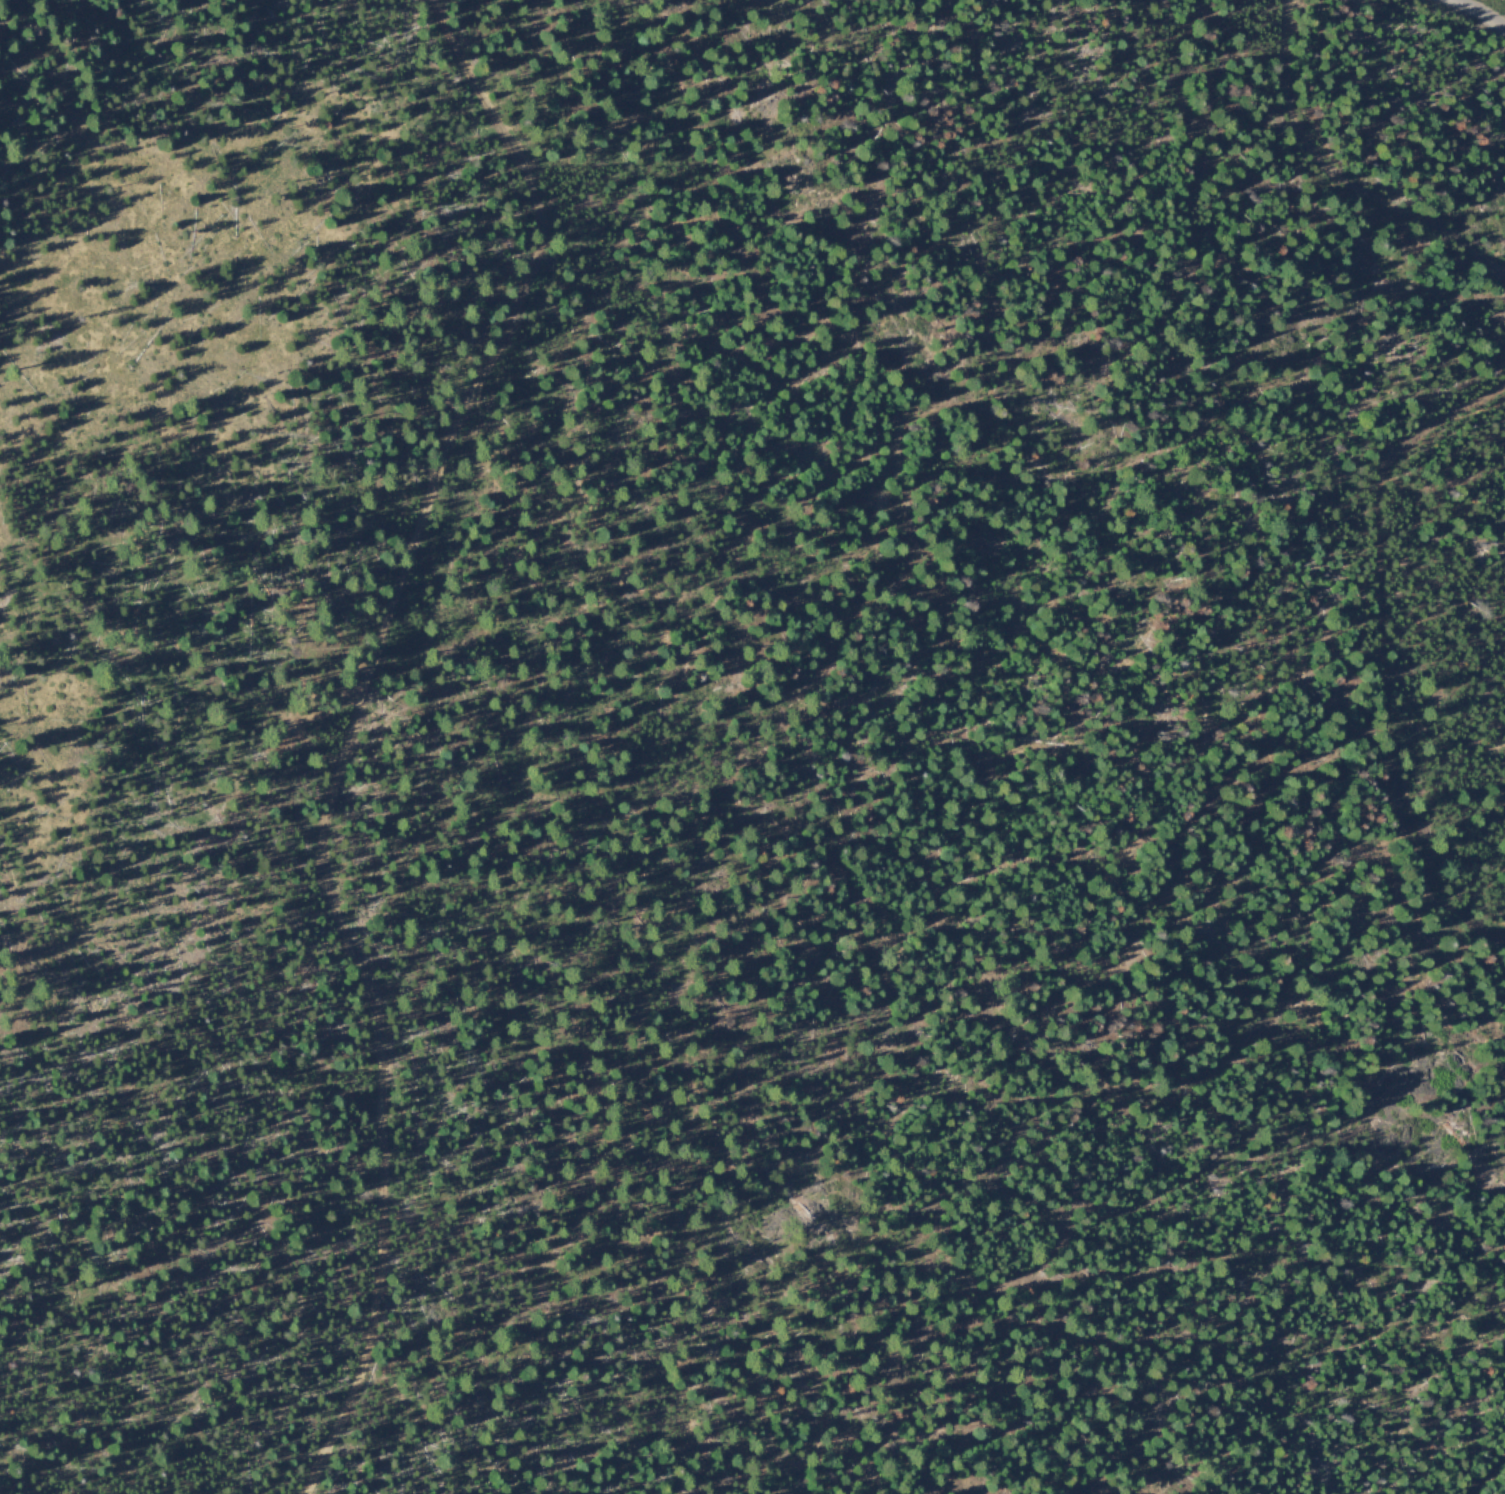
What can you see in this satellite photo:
road: (1470, 18)
road: (1401, 491)
road: (348, 727)

